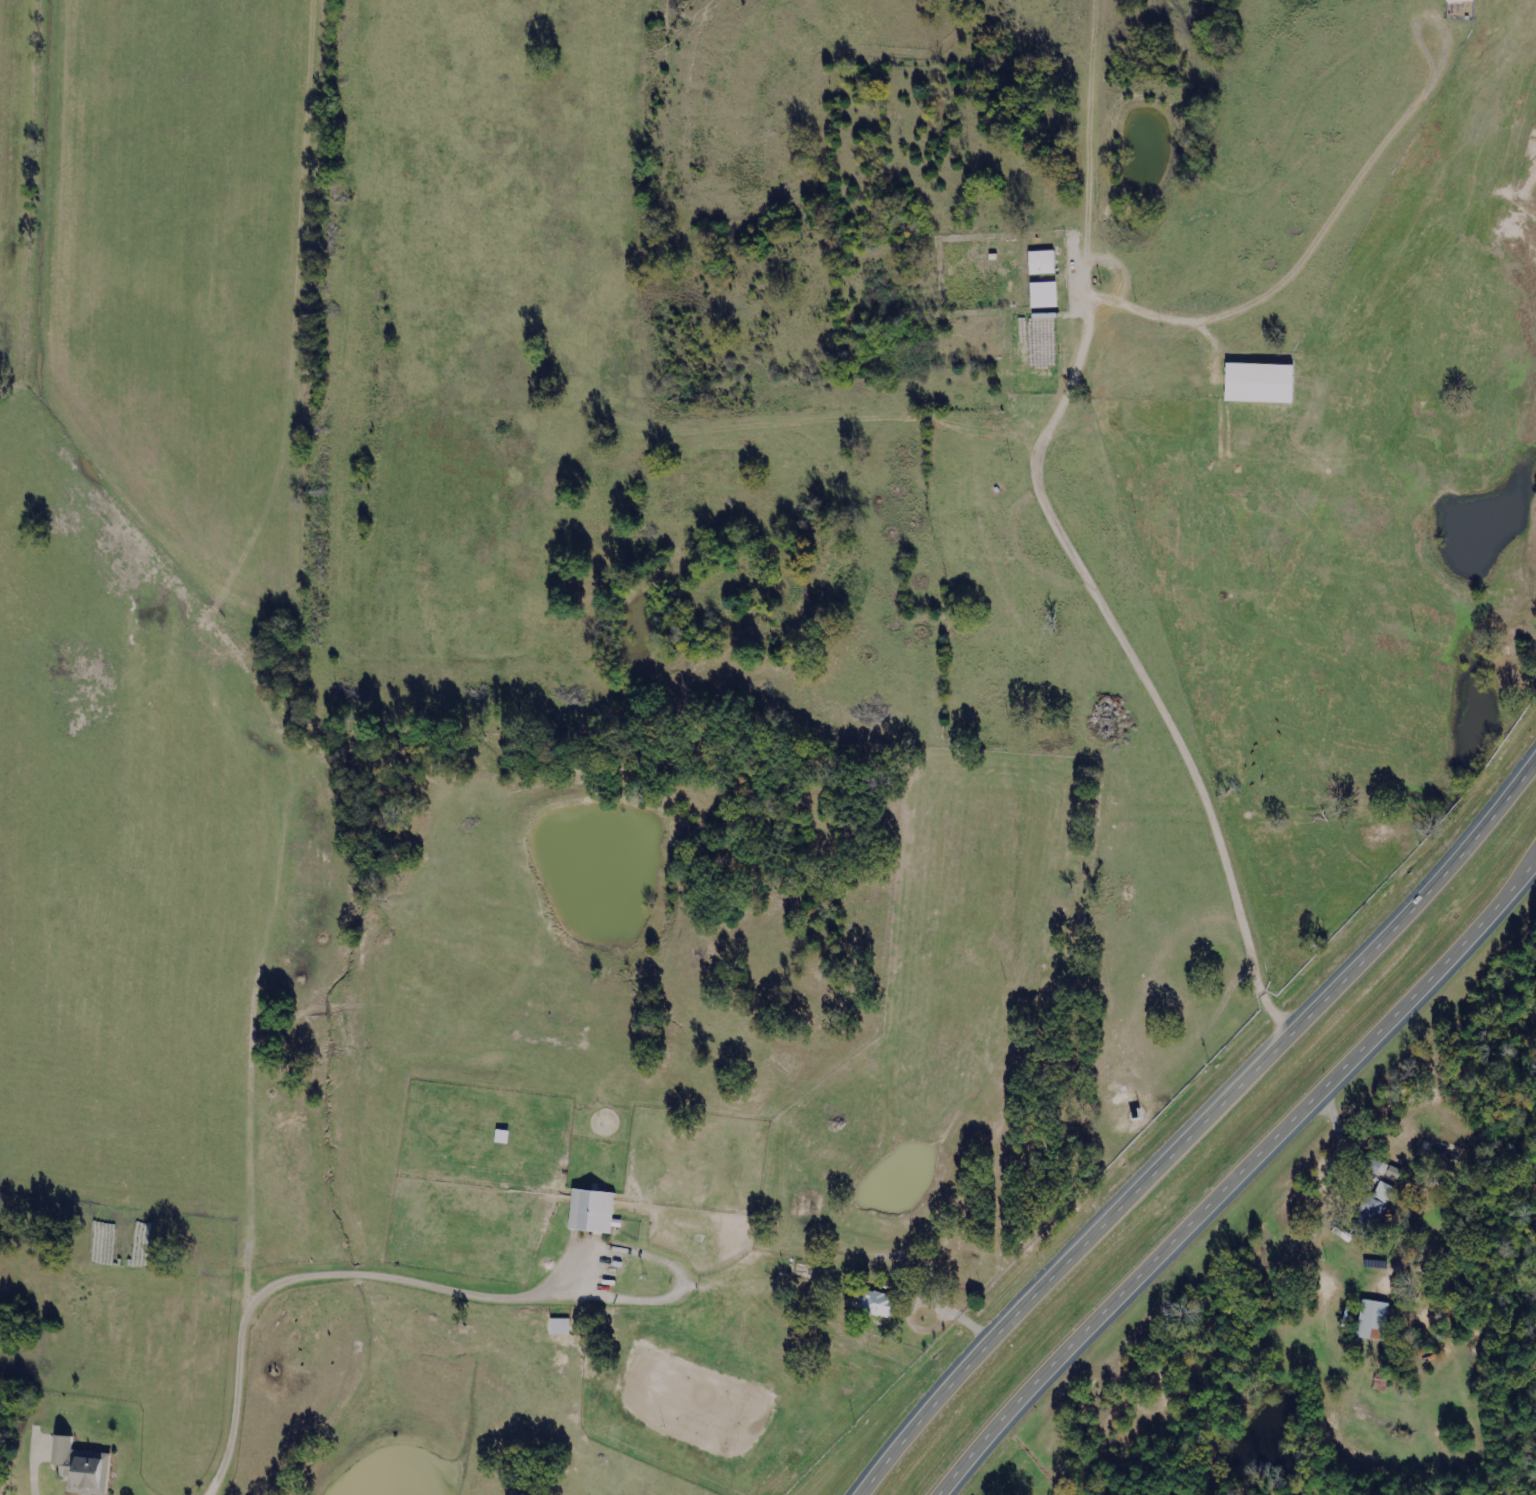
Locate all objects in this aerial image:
building: (1457, 2)
building: (1039, 265)
building: (1048, 295)
building: (1257, 385)
road: (1074, 536)
road: (1195, 1125)
building: (1388, 1170)
road: (1233, 1173)
building: (809, 1205)
building: (1372, 1209)
building: (589, 1214)
road: (324, 1277)
building: (872, 1305)
road: (962, 1319)
building: (1370, 1323)
building: (562, 1326)
building: (78, 1470)

